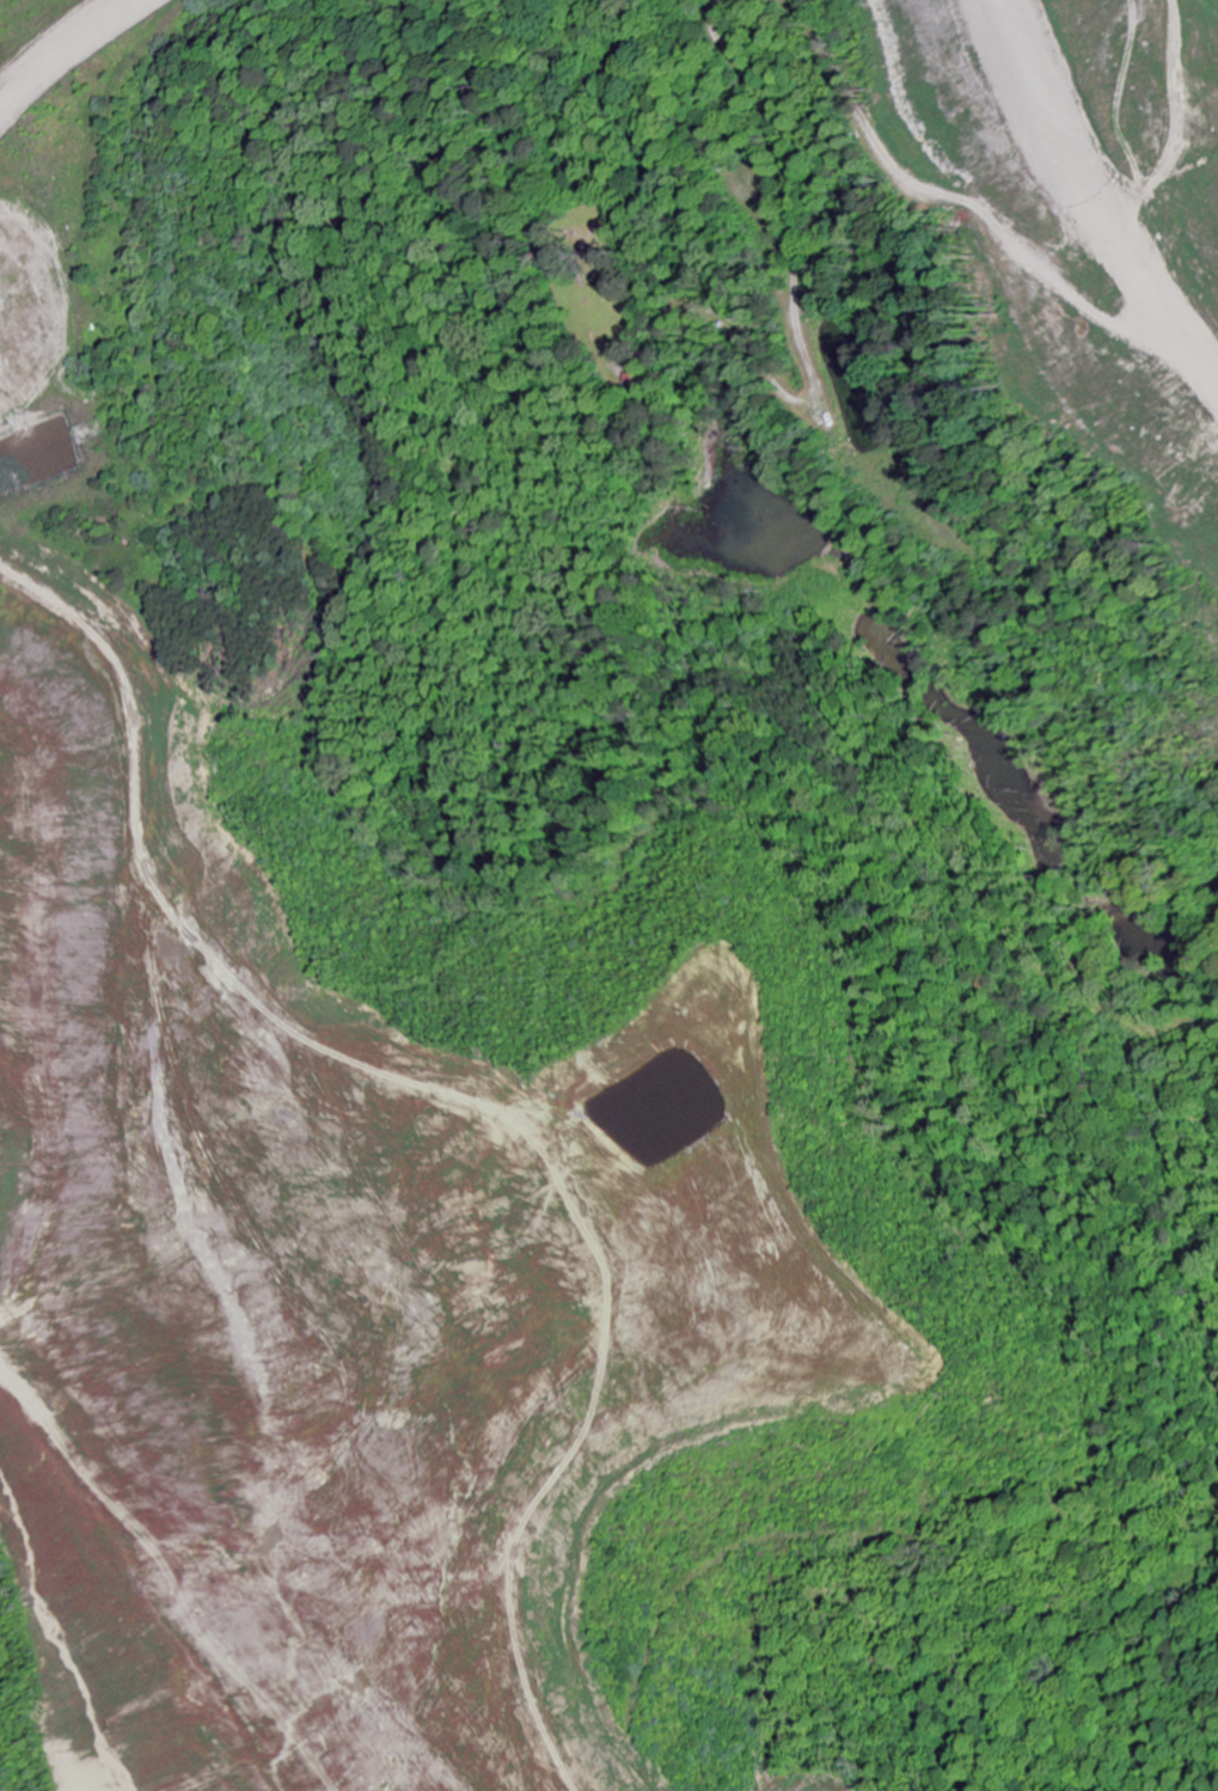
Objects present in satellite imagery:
road: (1180, 194)
road: (932, 404)
road: (1167, 670)

